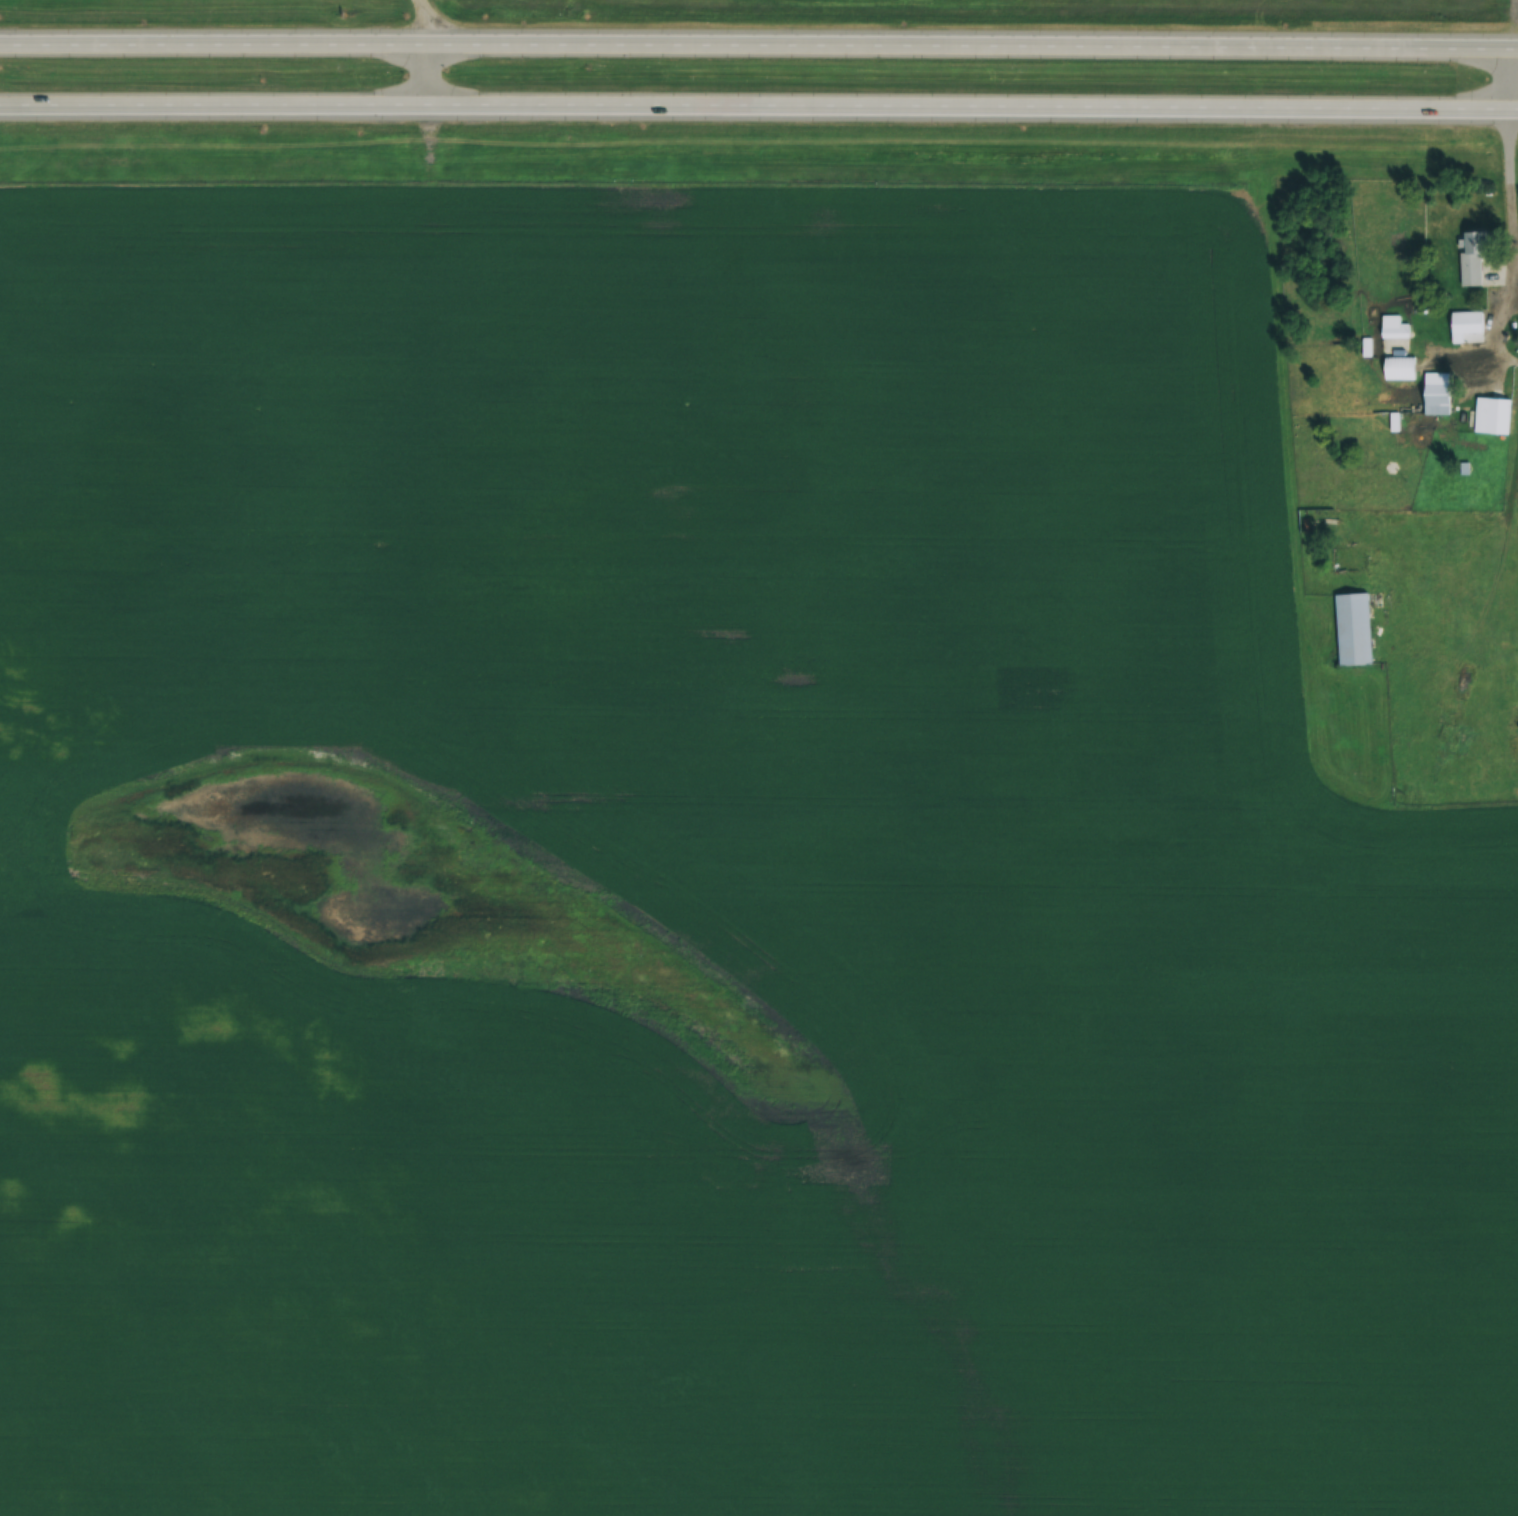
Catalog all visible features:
road: (1513, 23)
road: (758, 44)
road: (423, 53)
road: (1508, 79)
road: (758, 108)
road: (1508, 260)
building: (1390, 322)
building: (1466, 322)
building: (1396, 345)
building: (1399, 369)
building: (1437, 394)
building: (1498, 416)
building: (1355, 629)
crop: (710, 877)

